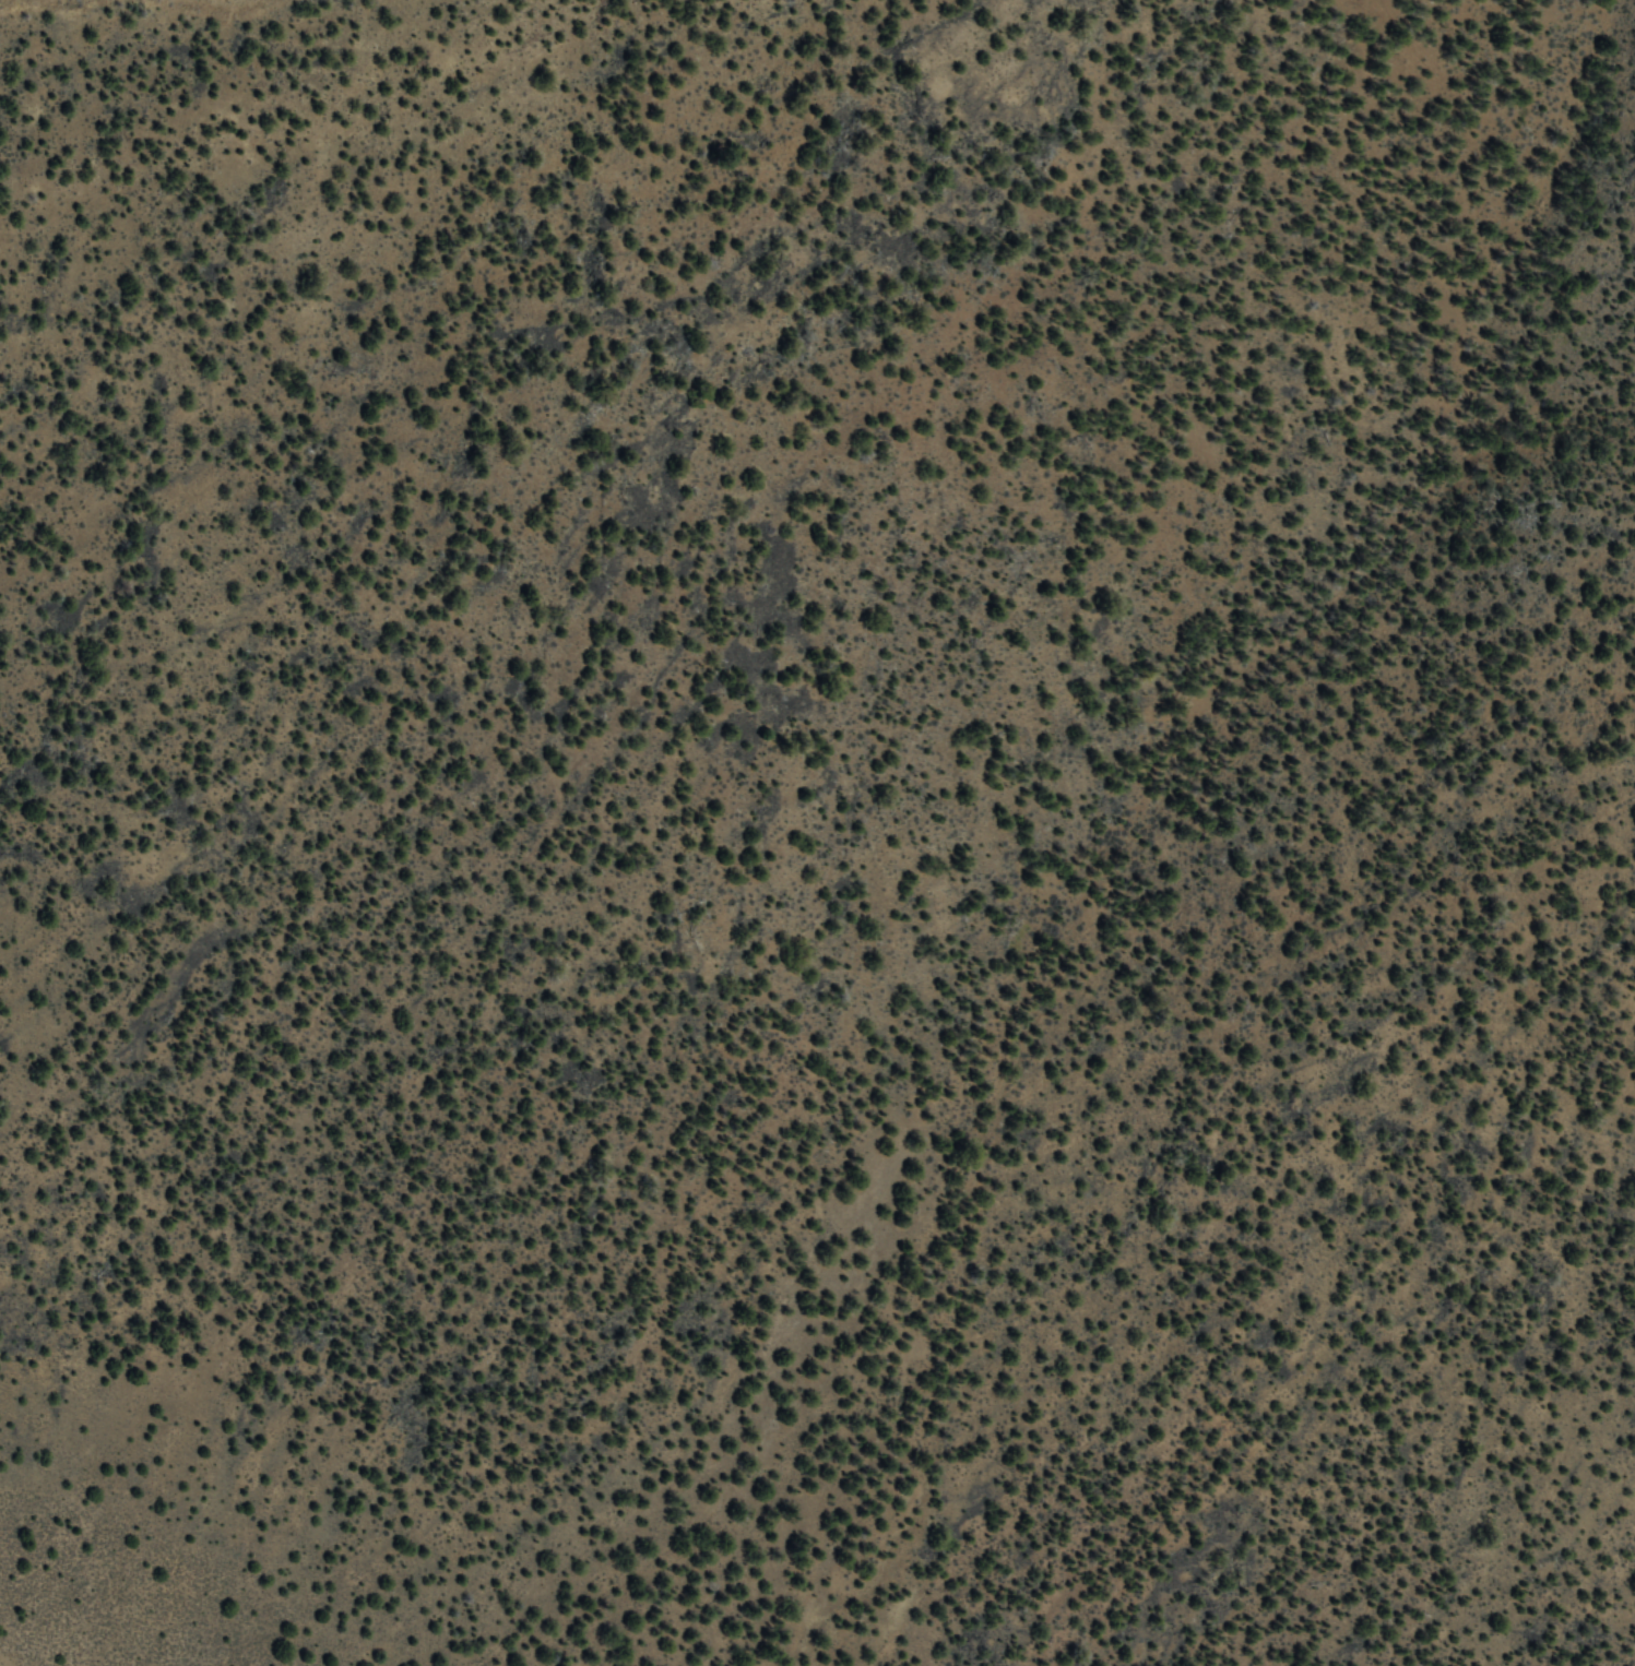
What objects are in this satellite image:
road: (5, 1661)

